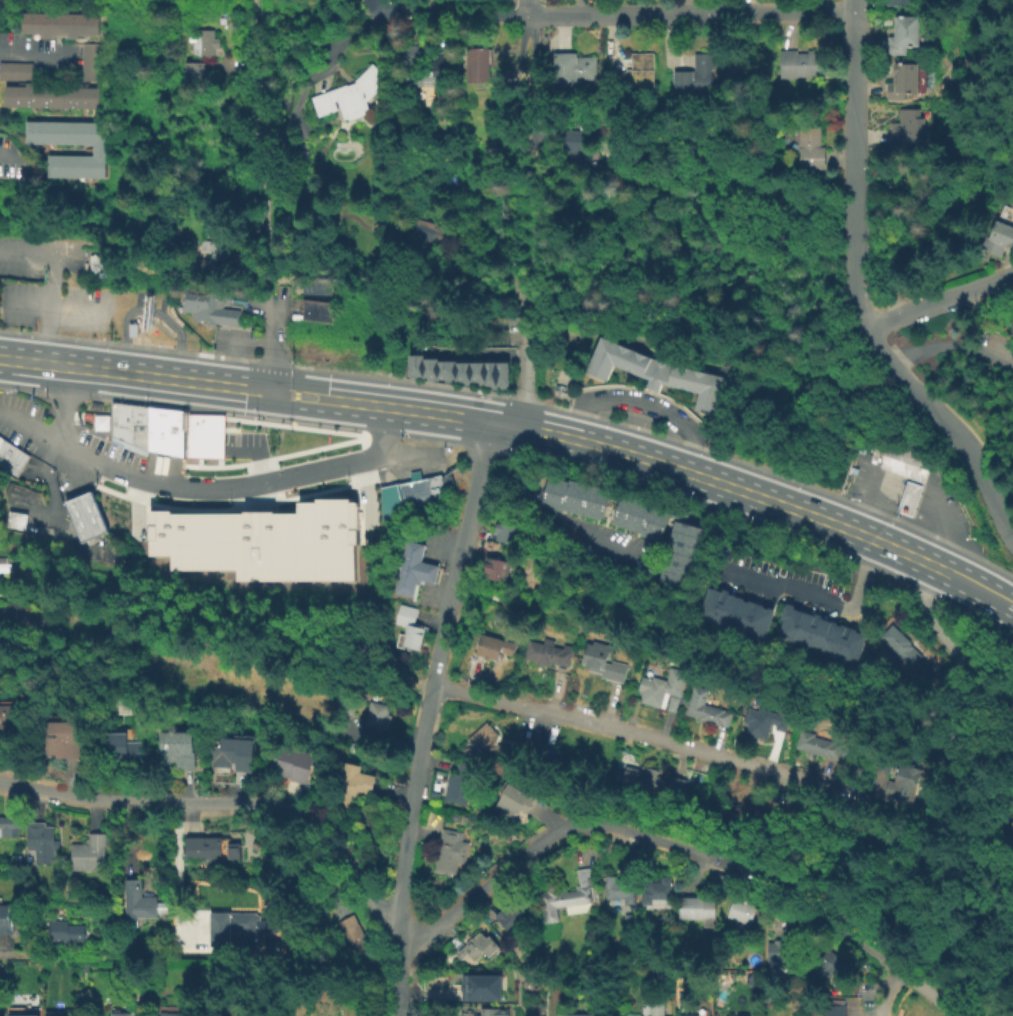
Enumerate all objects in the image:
building: (906, 2)
road: (855, 5)
road: (255, 7)
road: (526, 7)
road: (691, 12)
road: (451, 14)
road: (267, 15)
road: (363, 15)
building: (58, 23)
building: (902, 34)
building: (204, 42)
road: (260, 42)
road: (31, 55)
building: (89, 61)
building: (477, 62)
building: (803, 63)
building: (428, 65)
building: (574, 66)
building: (15, 70)
building: (193, 70)
building: (637, 73)
building: (696, 75)
building: (902, 80)
road: (527, 83)
building: (350, 94)
building: (50, 95)
building: (908, 126)
building: (576, 147)
building: (809, 147)
building: (96, 148)
building: (298, 151)
road: (7, 155)
parking lot: (8, 158)
road: (855, 171)
road: (265, 185)
building: (426, 233)
building: (996, 242)
building: (215, 244)
building: (93, 262)
road: (490, 269)
road: (52, 281)
building: (313, 284)
parking lot: (47, 289)
road: (892, 289)
parking lot: (139, 297)
road: (893, 302)
parking lot: (159, 303)
road: (938, 304)
road: (30, 305)
road: (149, 308)
road: (80, 310)
building: (206, 310)
building: (316, 310)
road: (896, 311)
building: (131, 329)
road: (17, 331)
road: (44, 333)
road: (86, 339)
road: (124, 344)
road: (272, 346)
parking lot: (1001, 346)
road: (151, 347)
road: (953, 349)
road: (177, 351)
road: (468, 353)
road: (215, 355)
road: (33, 362)
road: (271, 362)
building: (413, 364)
building: (428, 367)
road: (525, 367)
building: (445, 369)
building: (461, 372)
building: (475, 372)
building: (488, 373)
building: (501, 373)
building: (655, 375)
road: (172, 378)
road: (297, 378)
road: (315, 384)
road: (294, 394)
road: (643, 402)
building: (94, 405)
road: (312, 409)
road: (184, 410)
road: (428, 411)
road: (292, 412)
road: (559, 419)
building: (99, 421)
road: (951, 425)
road: (60, 426)
building: (128, 426)
street lamp: (251, 428)
building: (164, 430)
road: (384, 432)
building: (203, 435)
road: (234, 436)
road: (663, 436)
road: (383, 437)
road: (218, 439)
road: (429, 441)
road: (217, 445)
parking lot: (243, 445)
road: (315, 447)
road: (482, 449)
road: (506, 451)
road: (255, 452)
building: (10, 457)
road: (257, 460)
road: (197, 461)
building: (904, 464)
road: (213, 466)
street lamp: (346, 476)
road: (138, 478)
road: (276, 479)
road: (372, 479)
road: (361, 482)
road: (722, 483)
street lamp: (124, 488)
road: (110, 491)
road: (312, 493)
road: (364, 493)
building: (409, 495)
building: (571, 497)
road: (256, 499)
road: (136, 500)
street lamp: (228, 500)
road: (257, 504)
parking lot: (366, 505)
road: (136, 507)
road: (357, 508)
road: (194, 509)
road: (359, 512)
building: (83, 516)
road: (242, 516)
building: (638, 517)
parking lot: (135, 519)
parking lot: (257, 519)
road: (146, 520)
road: (258, 520)
building: (14, 521)
road: (272, 521)
road: (243, 524)
road: (558, 527)
road: (258, 528)
road: (147, 532)
building: (504, 535)
building: (261, 540)
building: (677, 557)
building: (411, 571)
building: (491, 571)
road: (950, 575)
road: (992, 596)
road: (819, 603)
building: (25, 614)
building: (733, 614)
building: (408, 628)
building: (818, 635)
building: (490, 647)
building: (897, 647)
building: (545, 652)
road: (956, 657)
building: (601, 662)
building: (221, 670)
building: (660, 687)
building: (348, 707)
building: (704, 709)
road: (426, 714)
building: (8, 715)
building: (375, 720)
road: (295, 723)
building: (761, 723)
road: (524, 725)
building: (60, 740)
building: (485, 741)
road: (653, 742)
building: (816, 746)
building: (118, 747)
building: (175, 748)
building: (229, 755)
road: (680, 761)
building: (880, 761)
building: (281, 764)
building: (904, 776)
building: (457, 781)
building: (652, 785)
building: (347, 786)
road: (394, 793)
road: (229, 802)
building: (510, 803)
road: (94, 815)
road: (193, 816)
road: (551, 822)
building: (7, 829)
road: (557, 834)
building: (1008, 834)
road: (128, 837)
road: (417, 841)
building: (39, 844)
building: (209, 849)
building: (448, 853)
building: (88, 856)
road: (111, 869)
road: (754, 875)
road: (177, 877)
building: (725, 882)
road: (333, 885)
building: (654, 890)
building: (619, 892)
road: (487, 897)
building: (567, 897)
building: (135, 903)
building: (696, 911)
building: (739, 911)
building: (510, 917)
building: (5, 921)
building: (627, 921)
building: (230, 925)
road: (449, 929)
building: (61, 935)
building: (352, 937)
road: (864, 943)
road: (4, 947)
building: (477, 949)
building: (777, 954)
road: (93, 955)
building: (827, 960)
building: (0, 982)
road: (966, 982)
building: (483, 987)
road: (892, 993)
building: (654, 1008)
building: (831, 1008)
building: (117, 1013)
building: (492, 1013)
road: (868, 1013)
building: (169, 1014)
building: (20, 1015)
building: (58, 1015)
building: (579, 1015)
building: (686, 1015)

